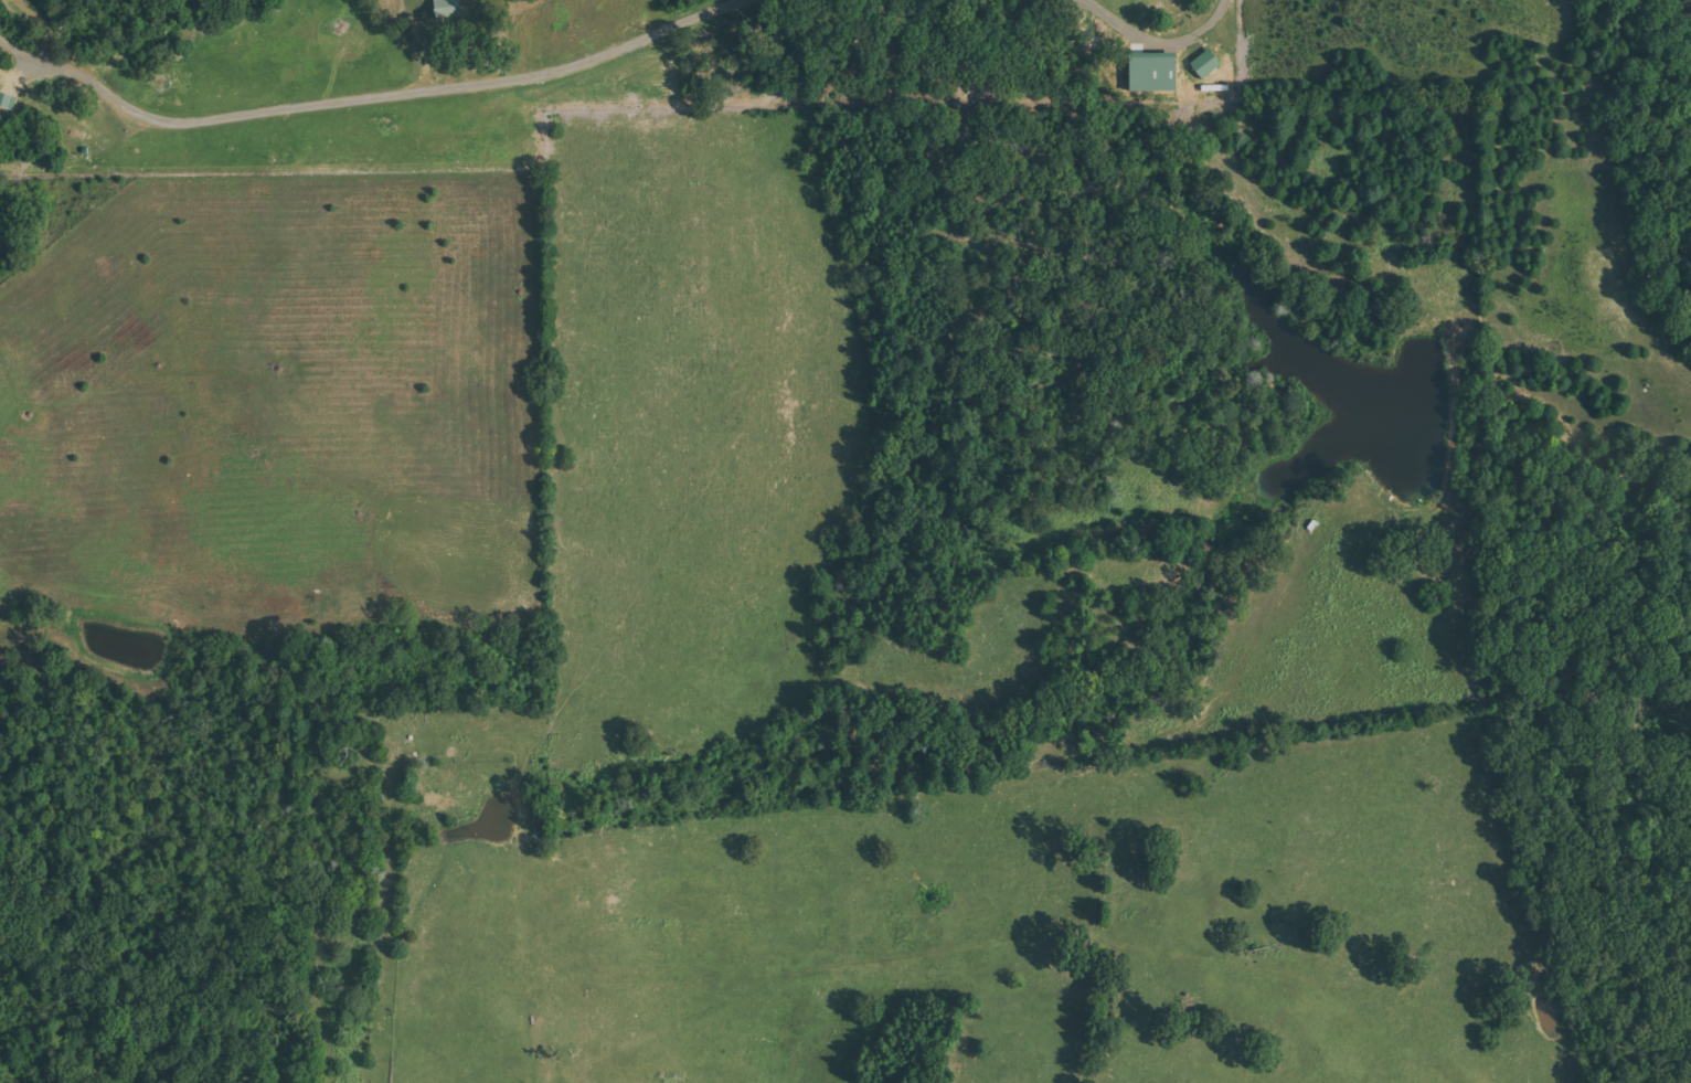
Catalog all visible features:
building: (449, 9)
building: (1208, 63)
building: (8, 100)
road: (260, 400)

